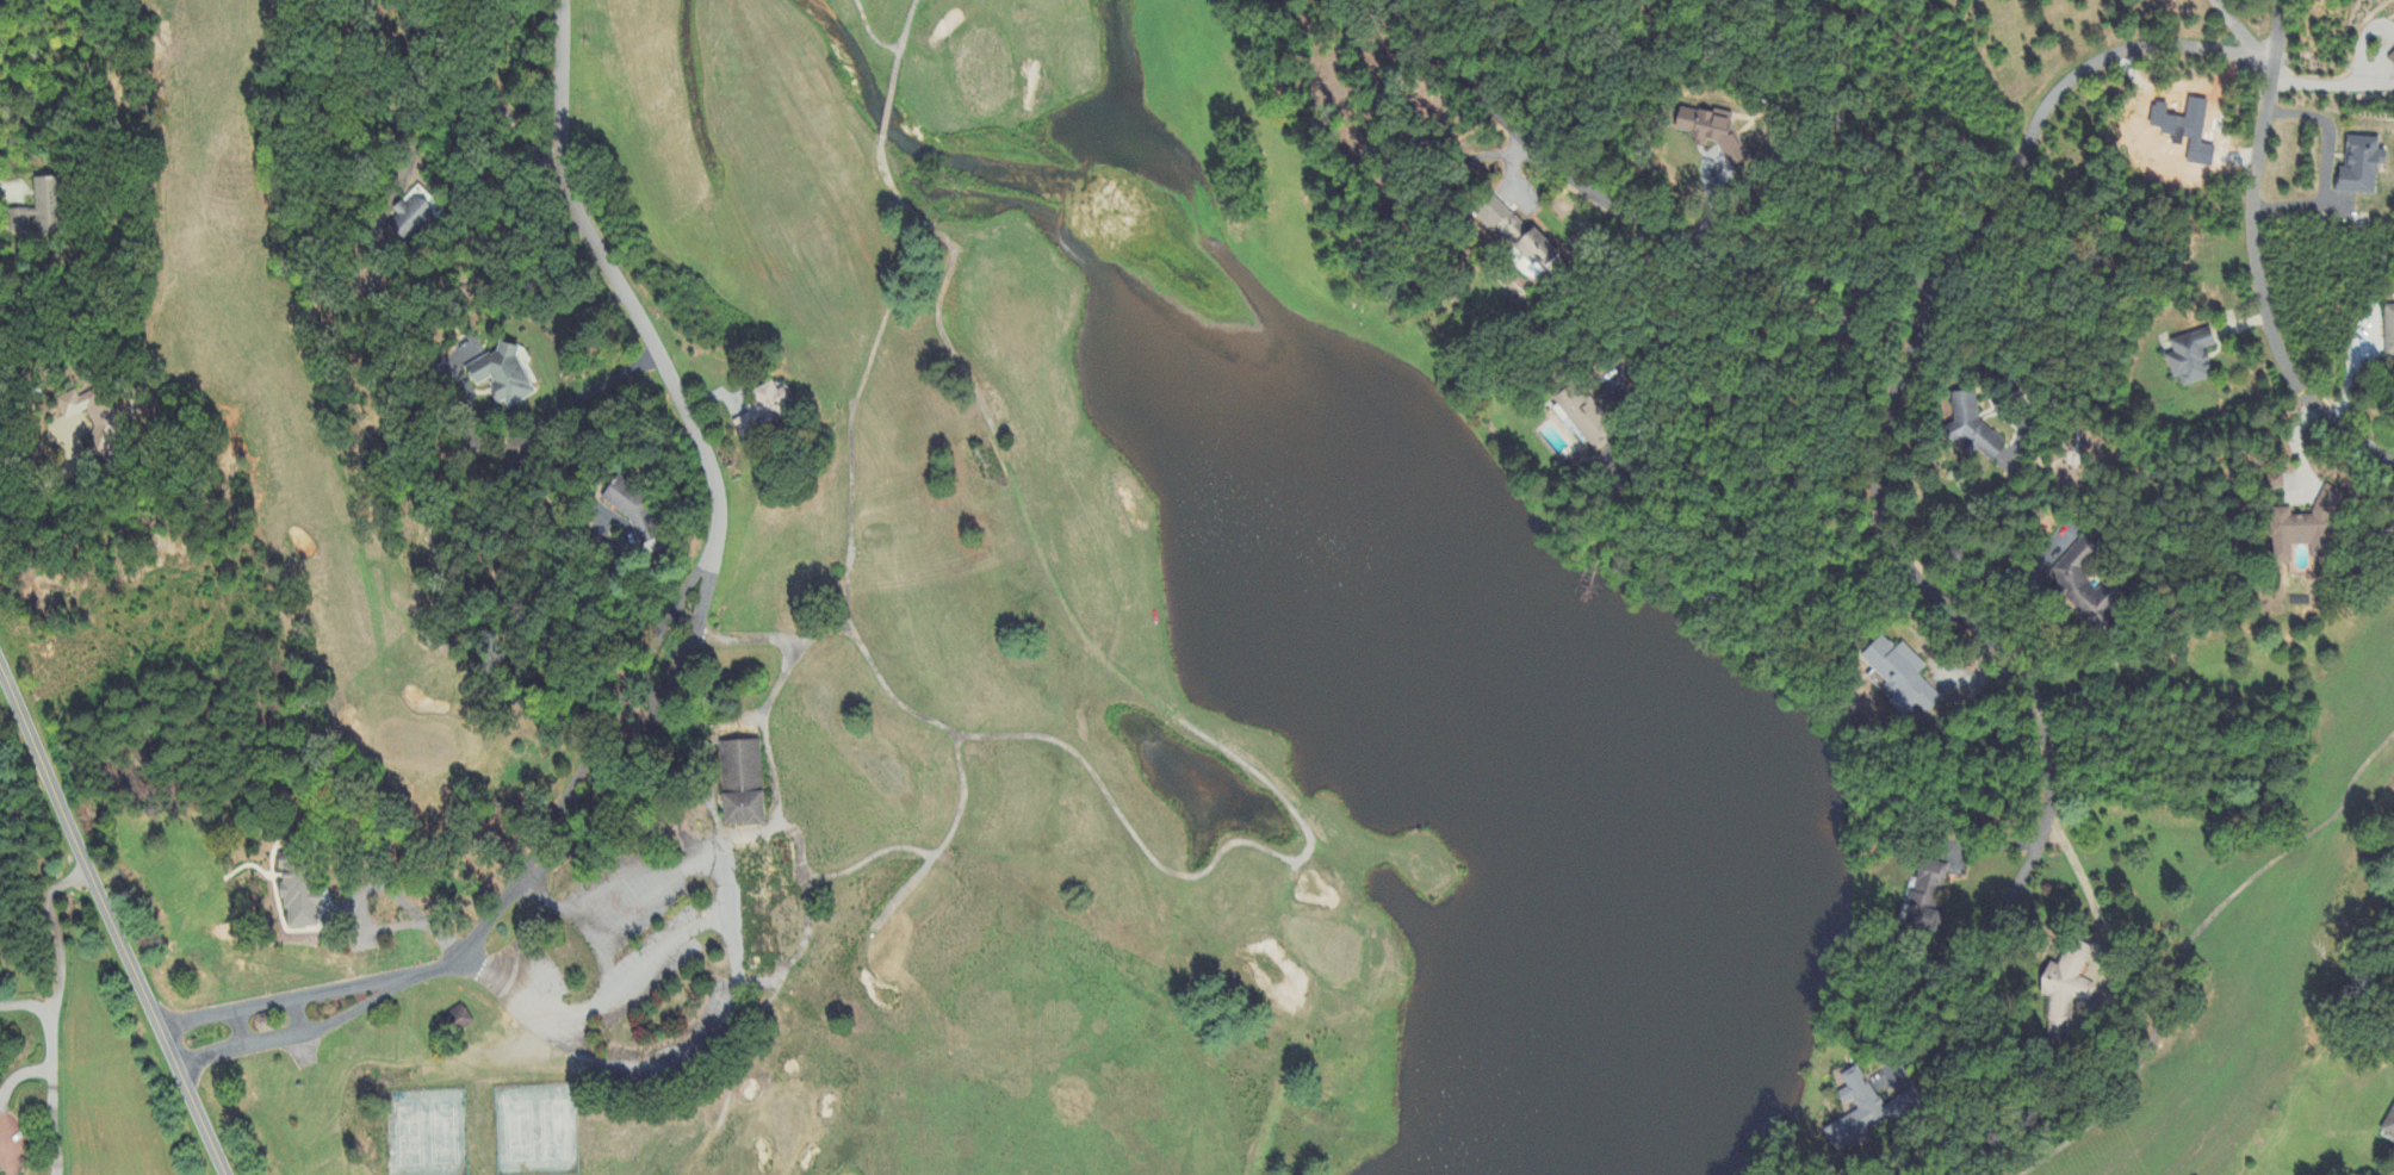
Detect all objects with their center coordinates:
road: (2235, 26)
road: (2064, 89)
road: (469, 110)
road: (2325, 166)
road: (1637, 220)
road: (2253, 260)
road: (1999, 373)
road: (1761, 388)
road: (489, 448)
road: (57, 481)
road: (618, 573)
road: (2010, 574)
road: (670, 640)
road: (2014, 664)
road: (765, 711)
road: (2077, 868)
road: (677, 878)
road: (564, 912)
road: (112, 921)
road: (51, 958)
road: (609, 963)
road: (641, 963)
road: (639, 1069)
road: (19, 1077)
road: (46, 1123)
park: (537, 1130)
park: (427, 1132)
road: (2, 1152)

